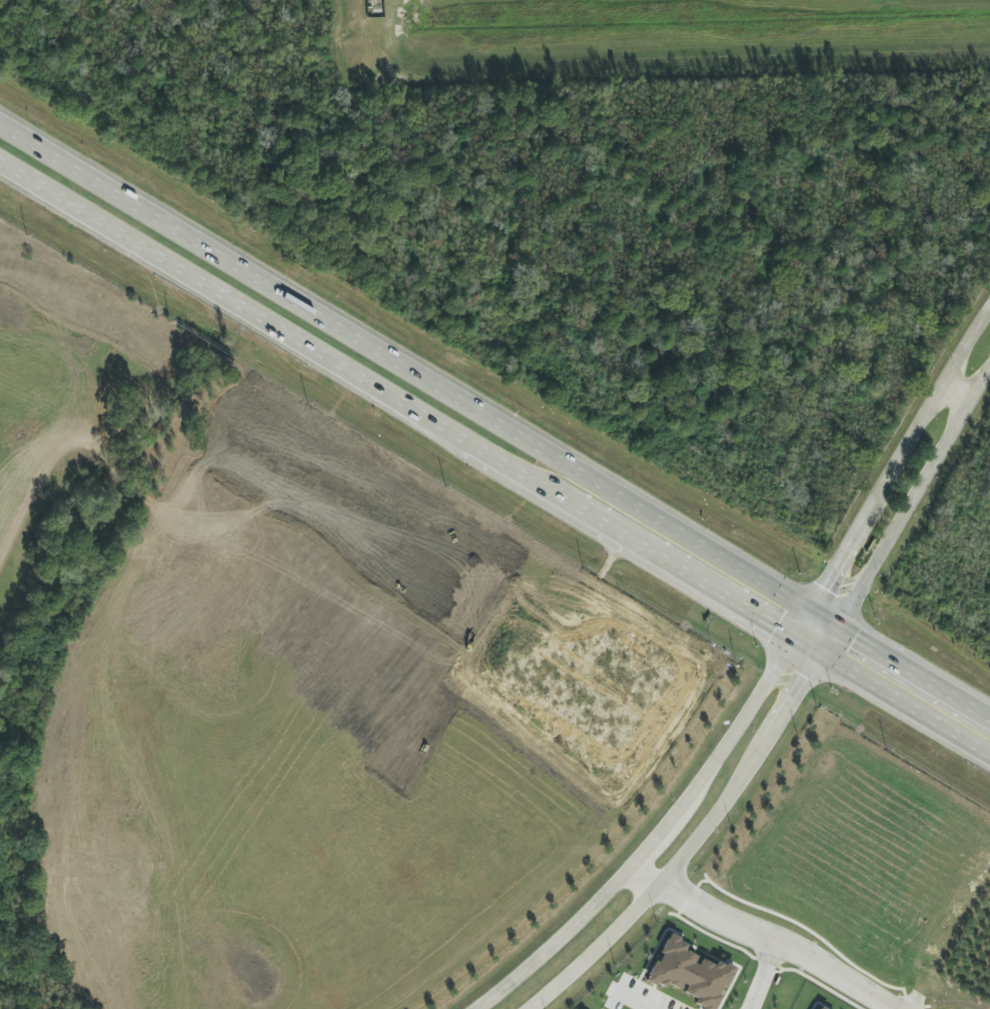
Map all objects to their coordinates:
road: (233, 300)
road: (403, 369)
road: (957, 392)
road: (898, 460)
road: (523, 473)
road: (912, 498)
road: (686, 571)
traffic signals: (807, 612)
road: (821, 620)
road: (800, 623)
traffic signals: (836, 629)
traffic signals: (793, 635)
road: (828, 640)
road: (807, 643)
traffic signals: (821, 651)
road: (913, 674)
road: (905, 701)
road: (654, 836)
road: (693, 843)
road: (749, 942)
building: (690, 974)
road: (761, 982)
road: (629, 1004)
building: (819, 1008)

